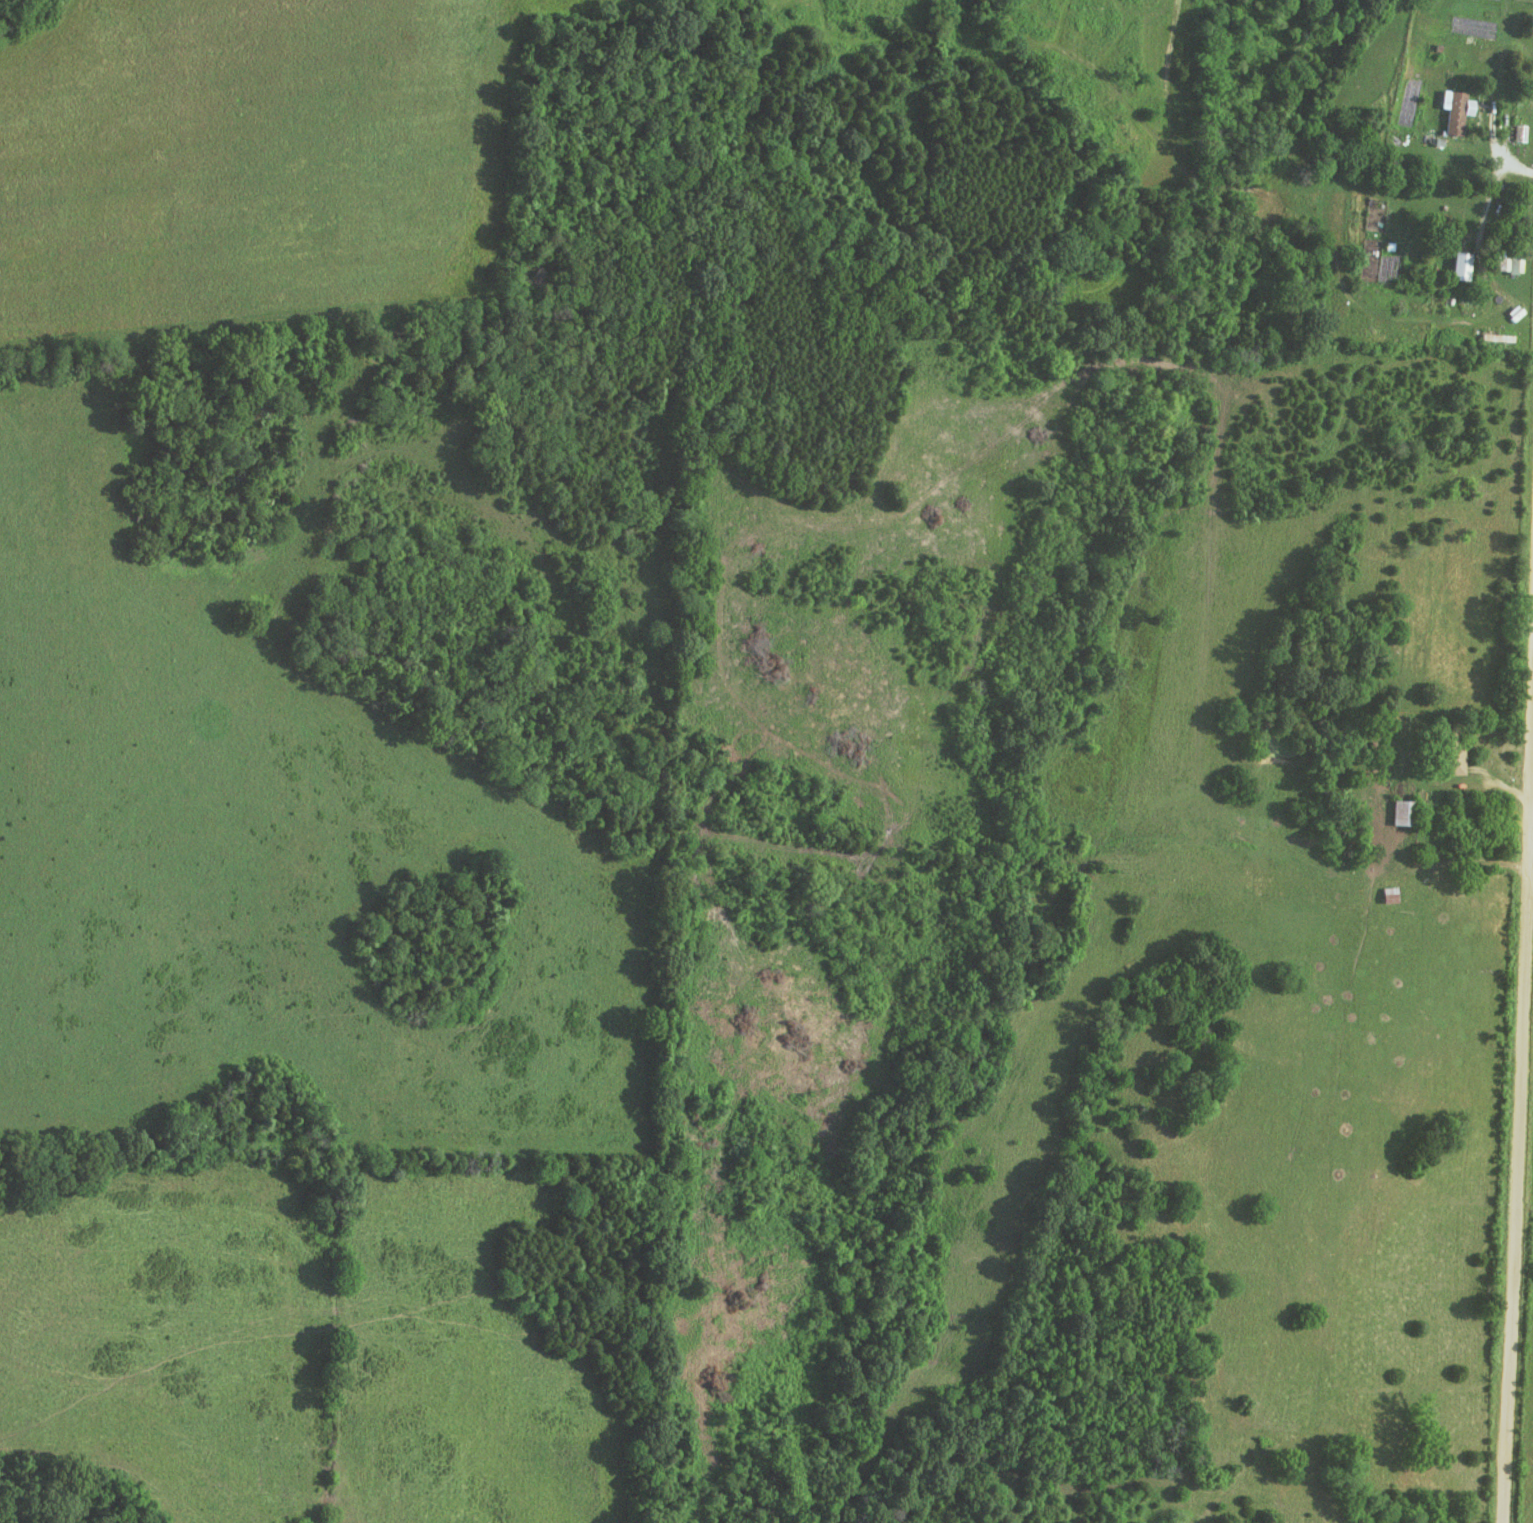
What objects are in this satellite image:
building: (1456, 114)
building: (1372, 254)
building: (1390, 263)
building: (1450, 753)
building: (1405, 814)
road: (1521, 1262)

